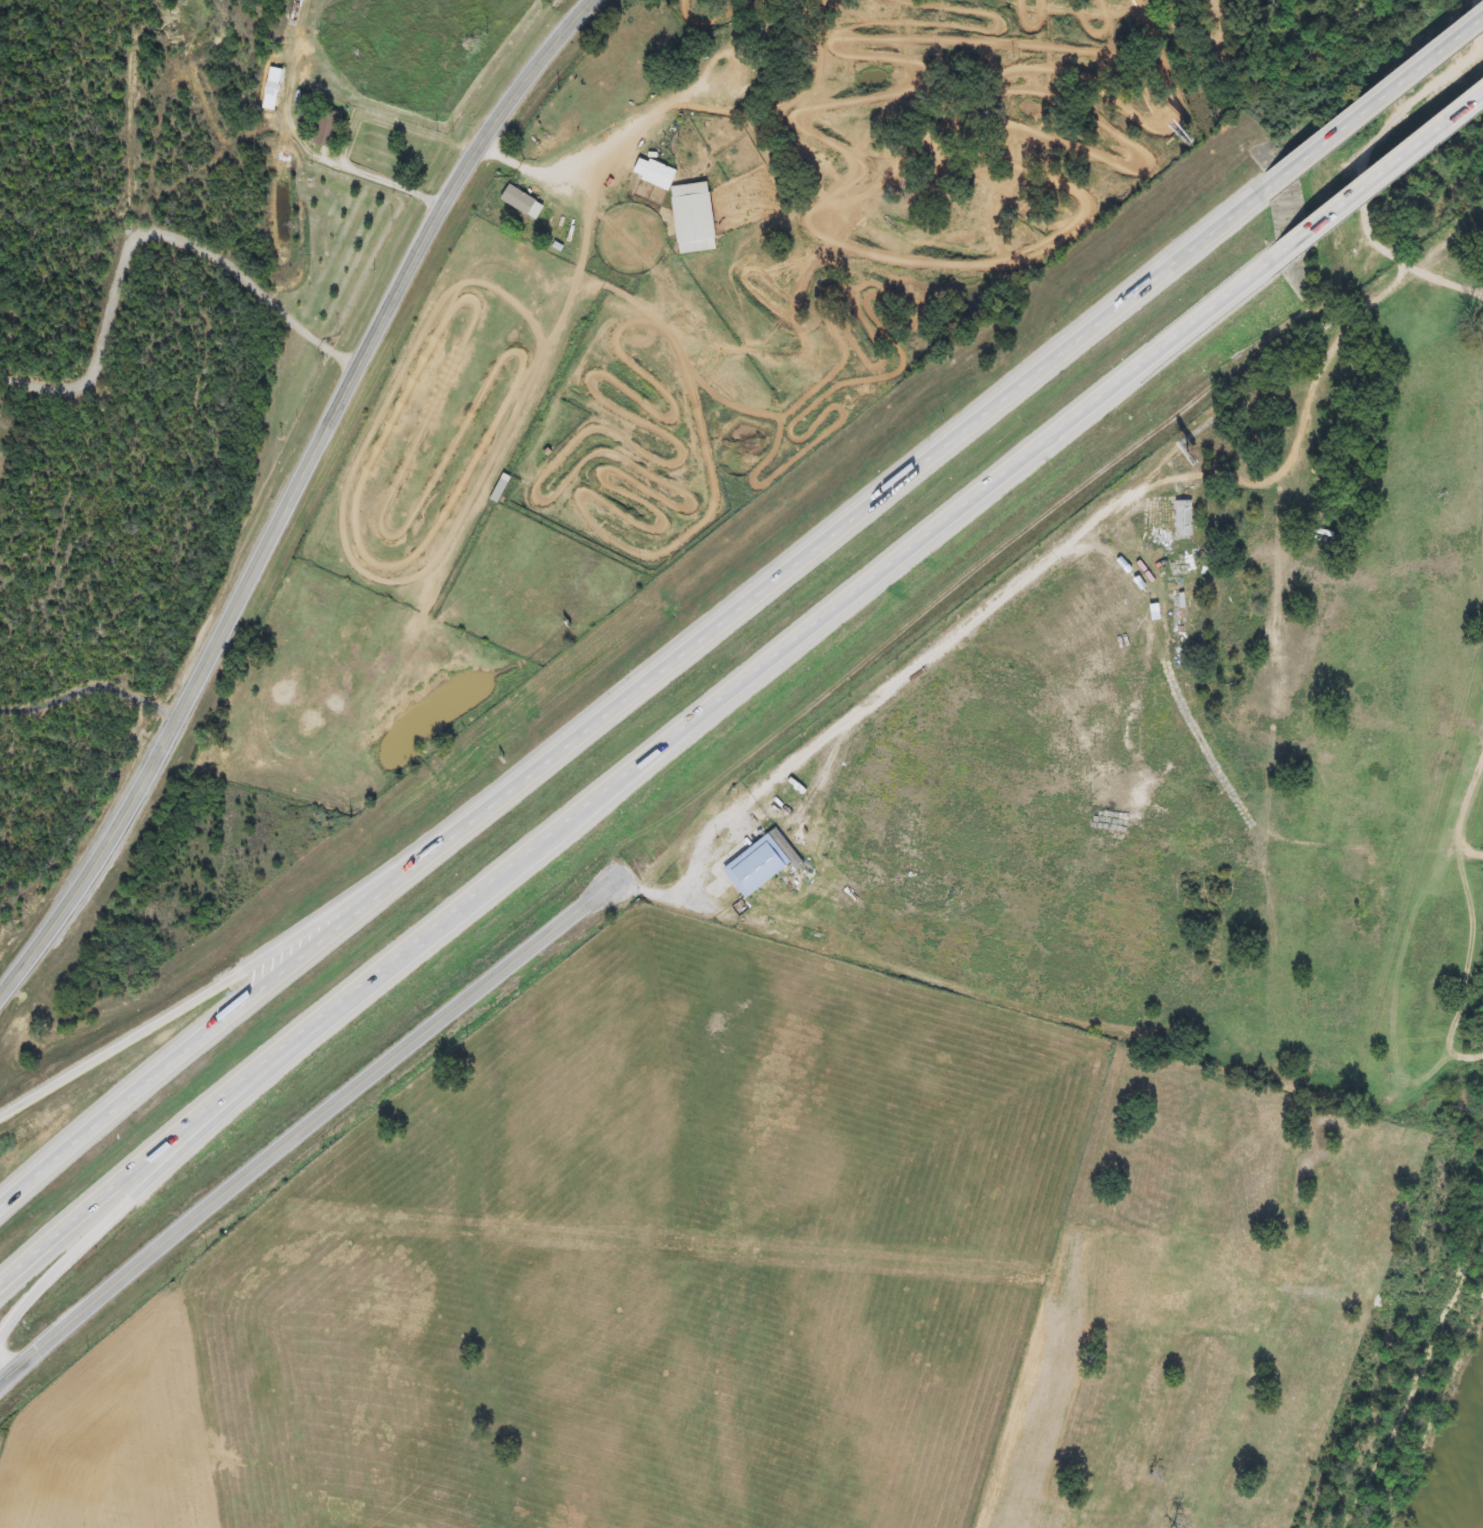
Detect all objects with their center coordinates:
road: (1481, 11)
building: (272, 89)
building: (328, 130)
building: (524, 203)
building: (688, 207)
road: (150, 235)
building: (503, 489)
road: (299, 495)
building: (1187, 517)
road: (739, 609)
building: (1187, 619)
road: (740, 682)
road: (93, 687)
road: (870, 701)
building: (796, 796)
building: (760, 865)
road: (238, 972)
road: (325, 1033)
road: (303, 1133)
river: (1460, 1483)

